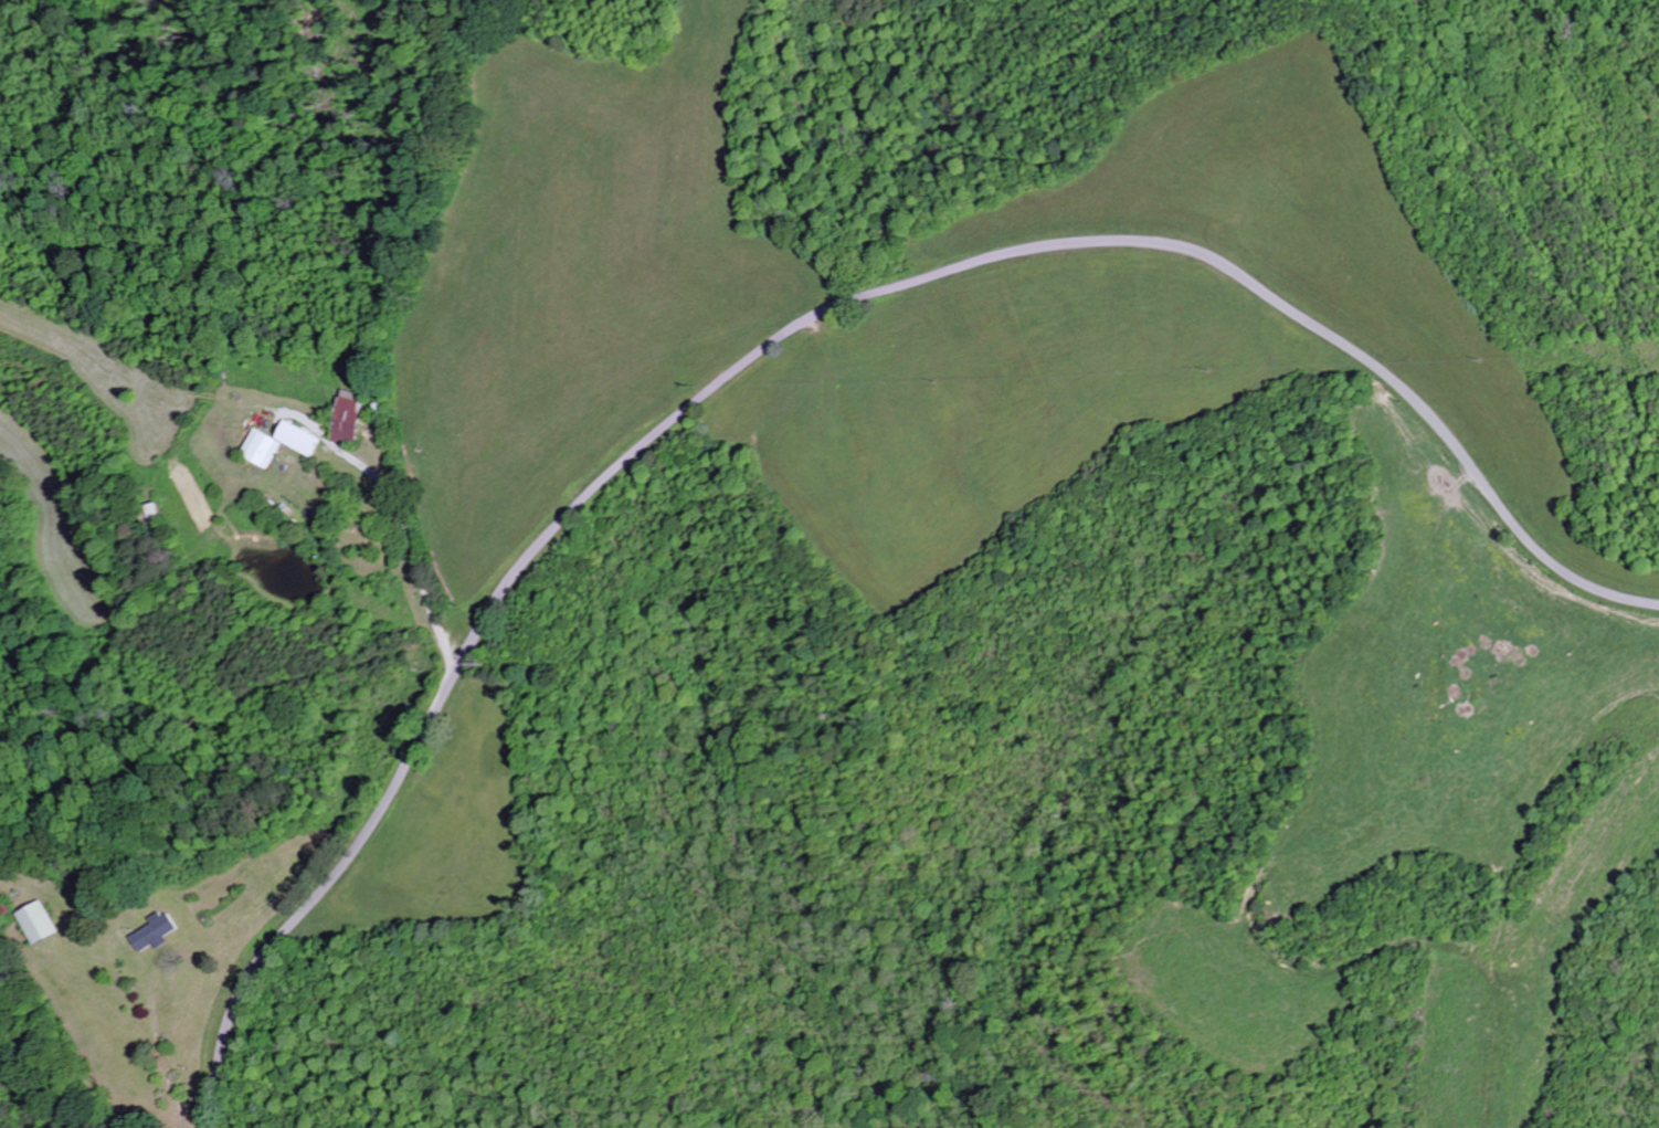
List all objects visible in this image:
road: (792, 330)
building: (347, 419)
building: (278, 445)
road: (415, 540)
building: (3, 903)
building: (38, 923)
building: (152, 932)

